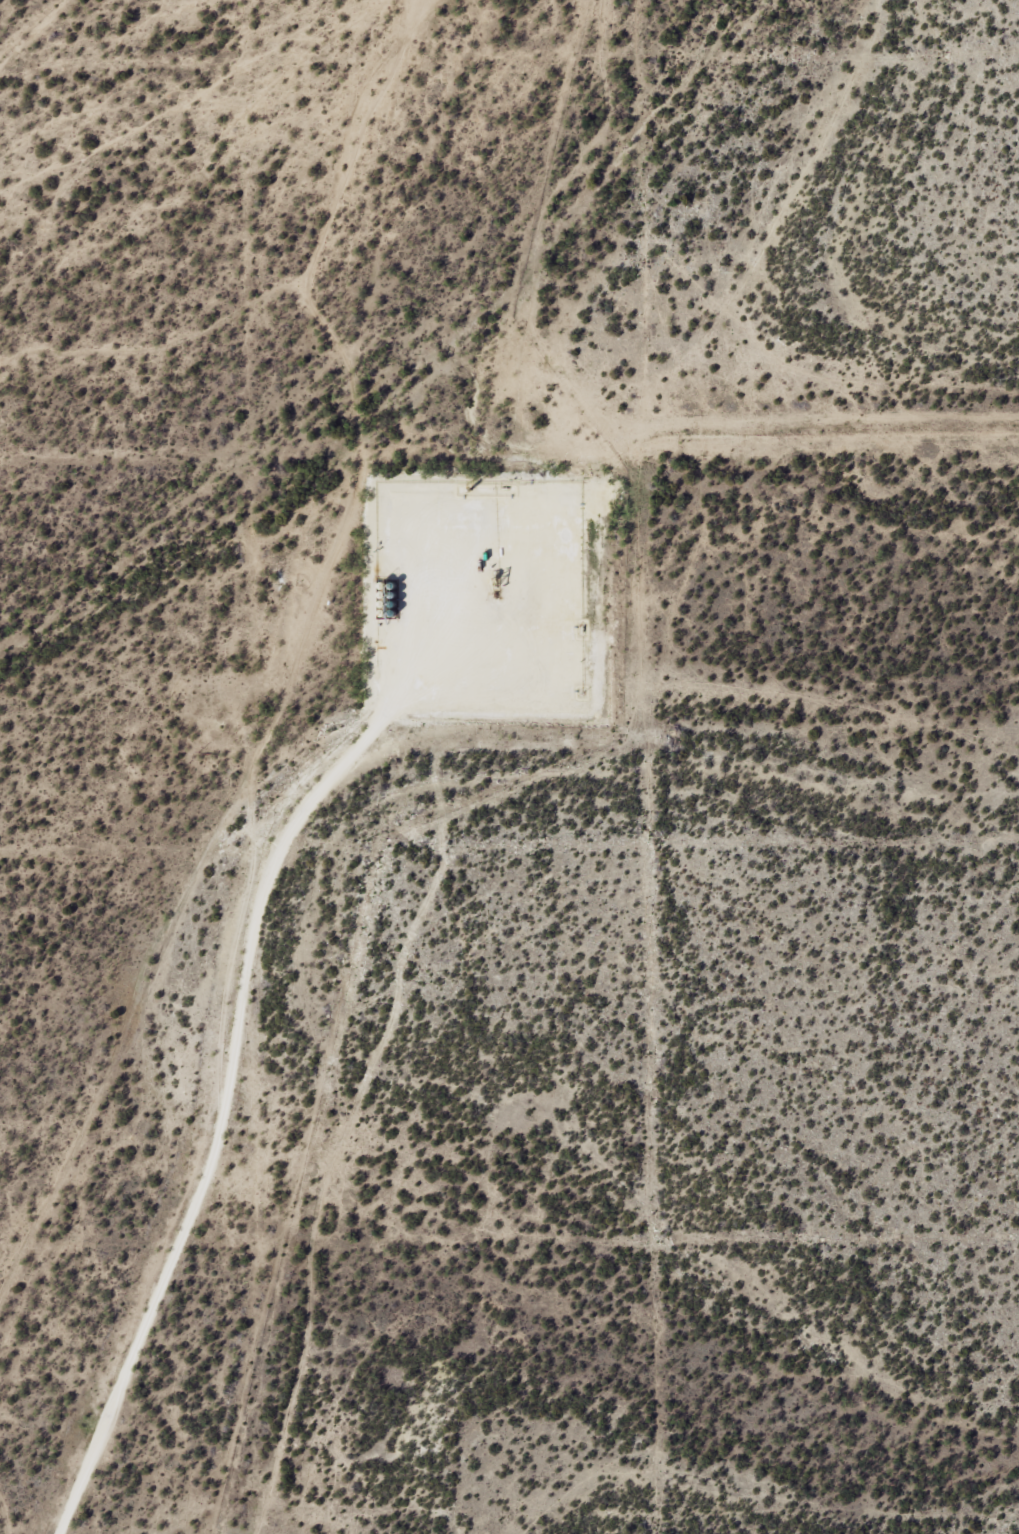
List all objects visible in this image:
road: (280, 619)

